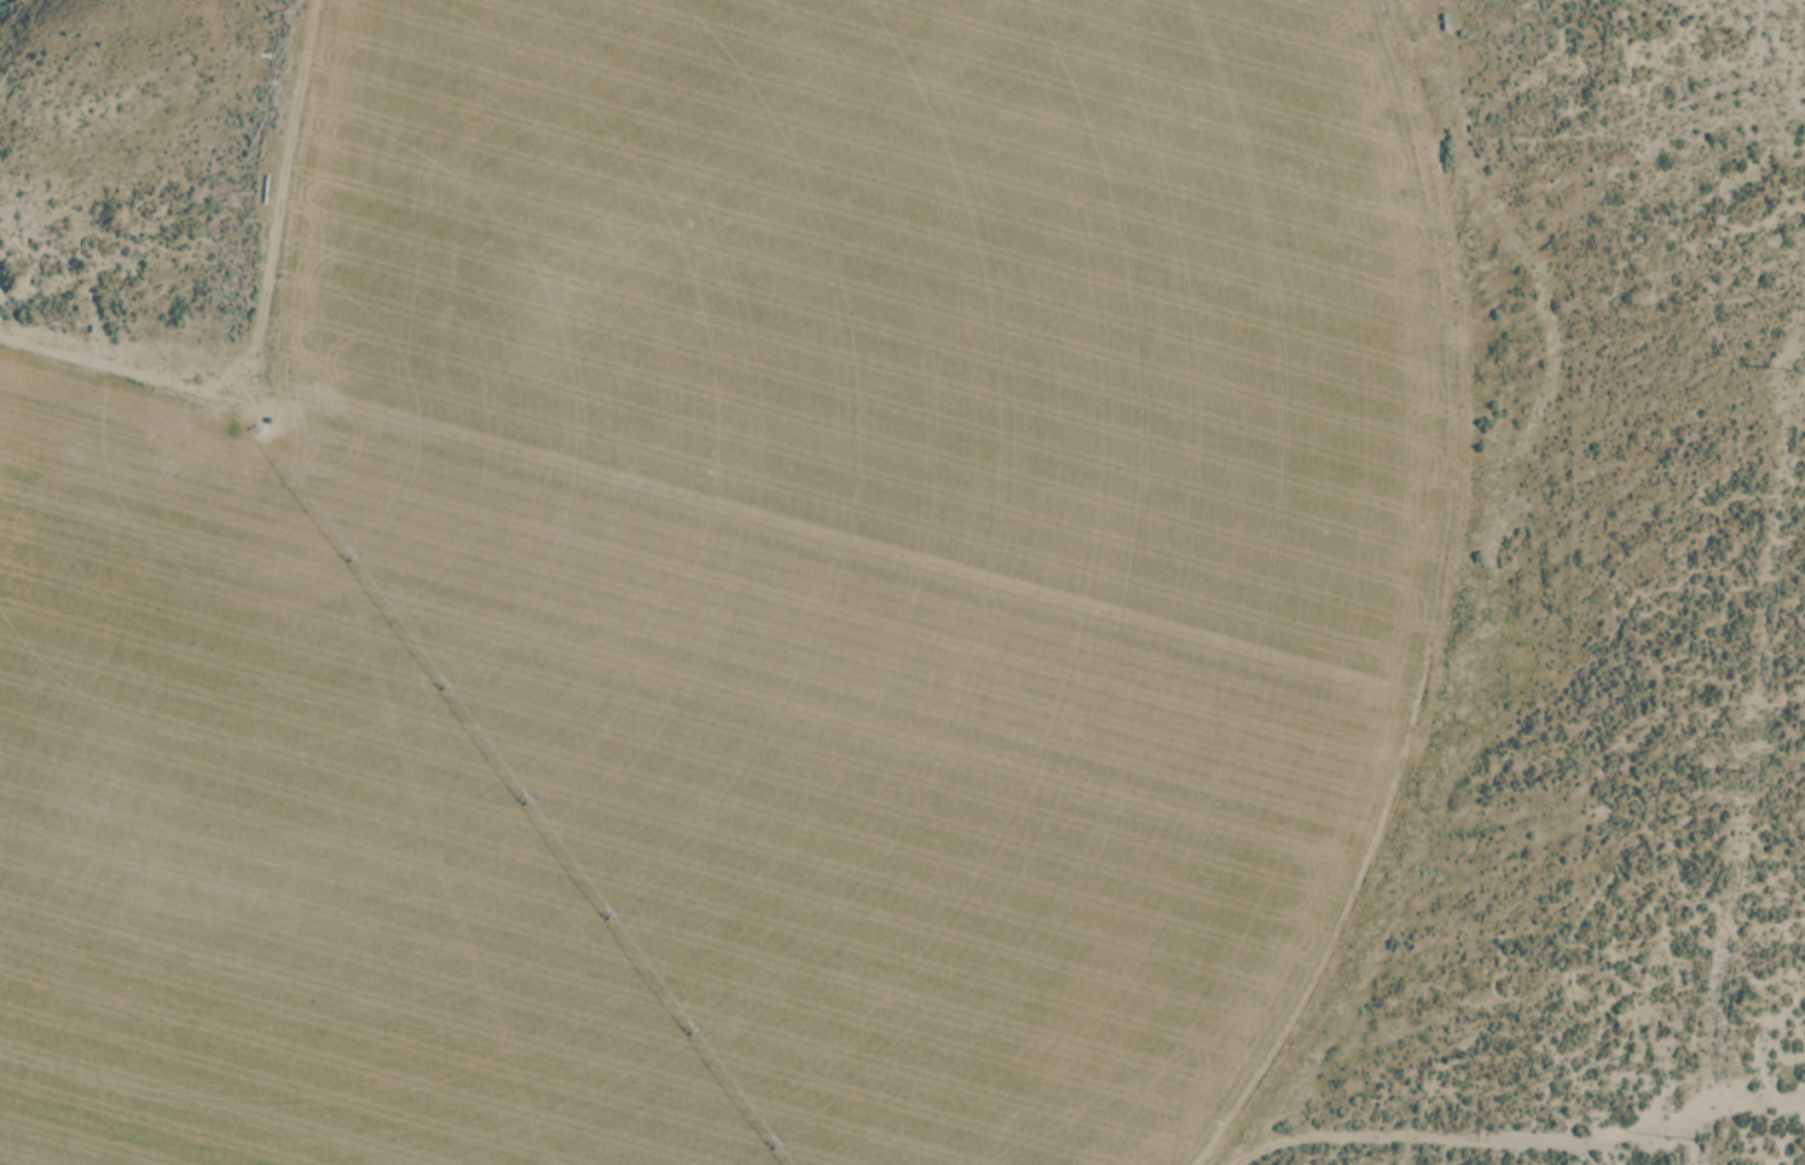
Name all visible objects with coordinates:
crop: (737, 598)

